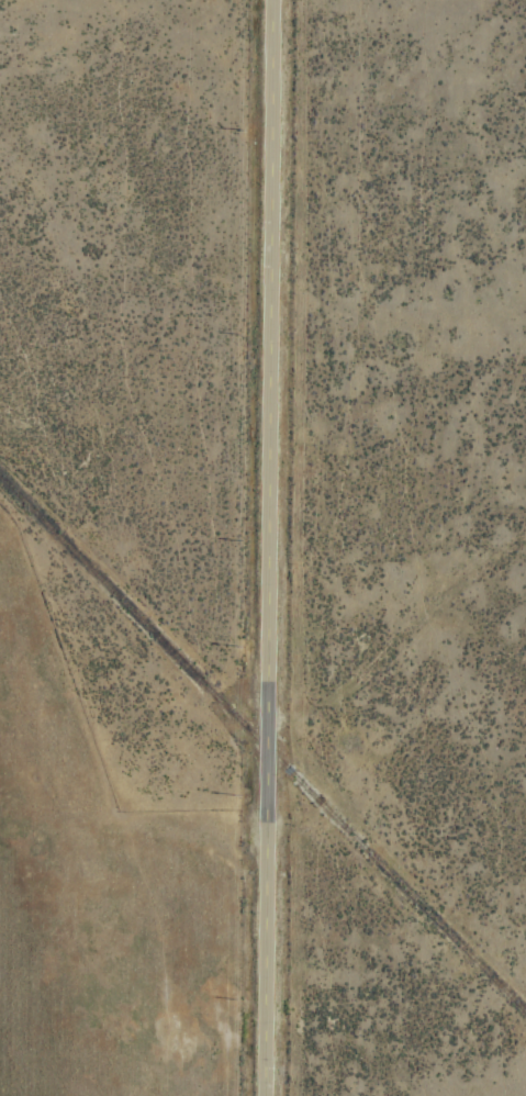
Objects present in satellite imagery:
crop: (262, 548)
road: (266, 548)
railway: (262, 746)

